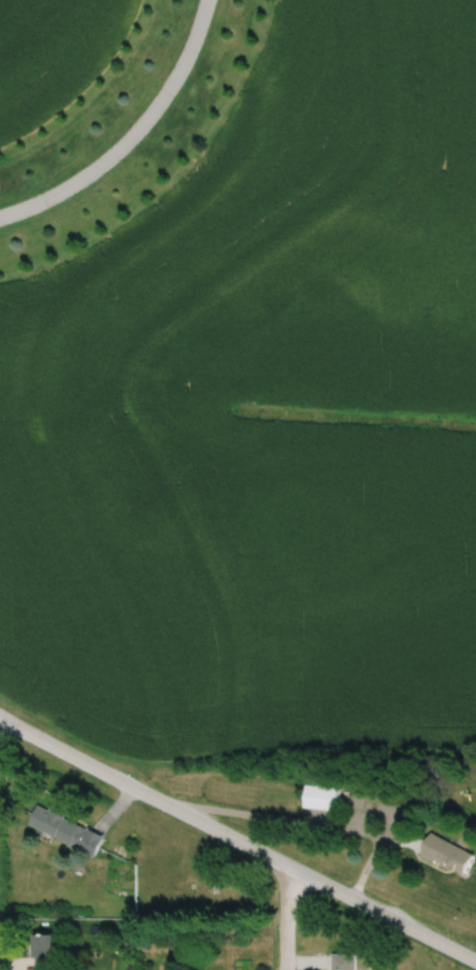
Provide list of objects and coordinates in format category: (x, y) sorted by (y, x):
crop: (54, 55)
road: (131, 135)
crop: (263, 421)
building: (320, 798)
building: (65, 830)
road: (237, 844)
building: (447, 855)
road: (287, 920)
building: (43, 952)
building: (342, 961)

